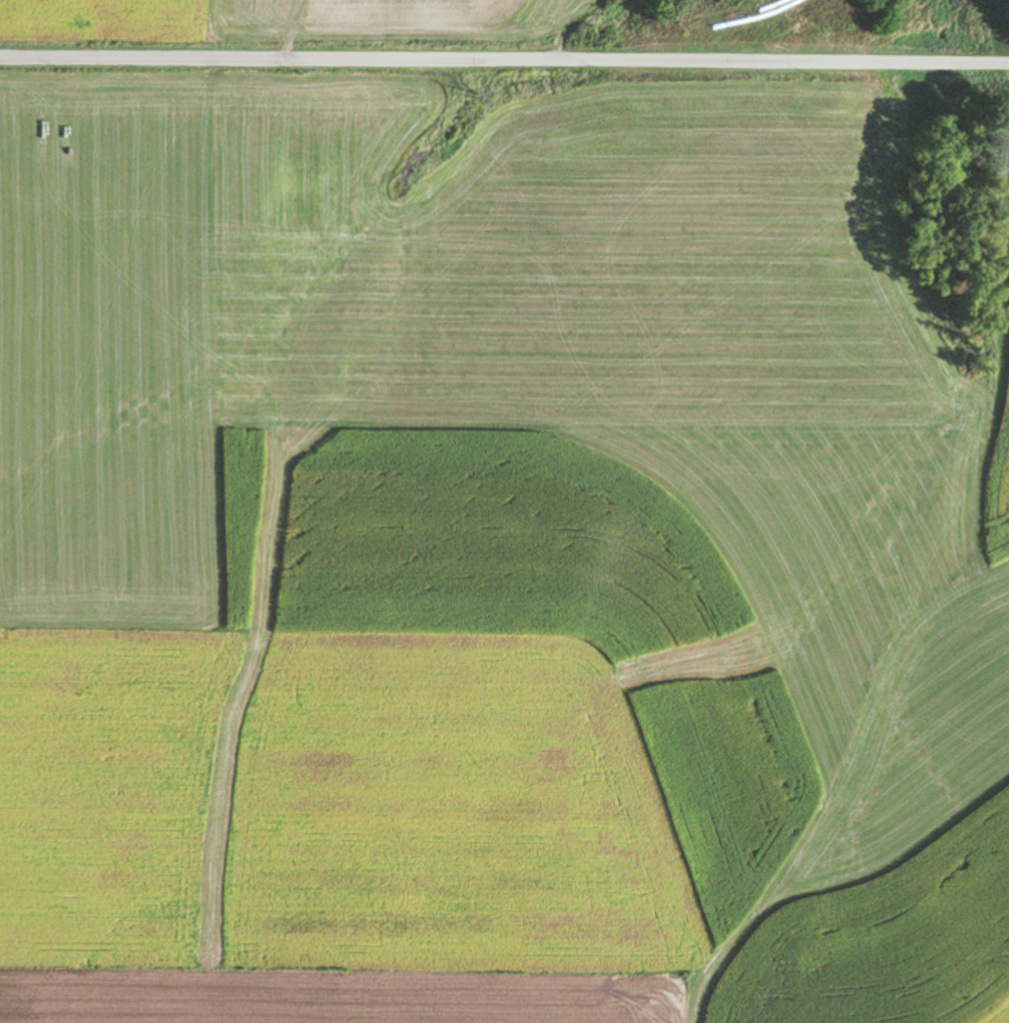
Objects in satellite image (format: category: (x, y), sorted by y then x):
road: (504, 59)

